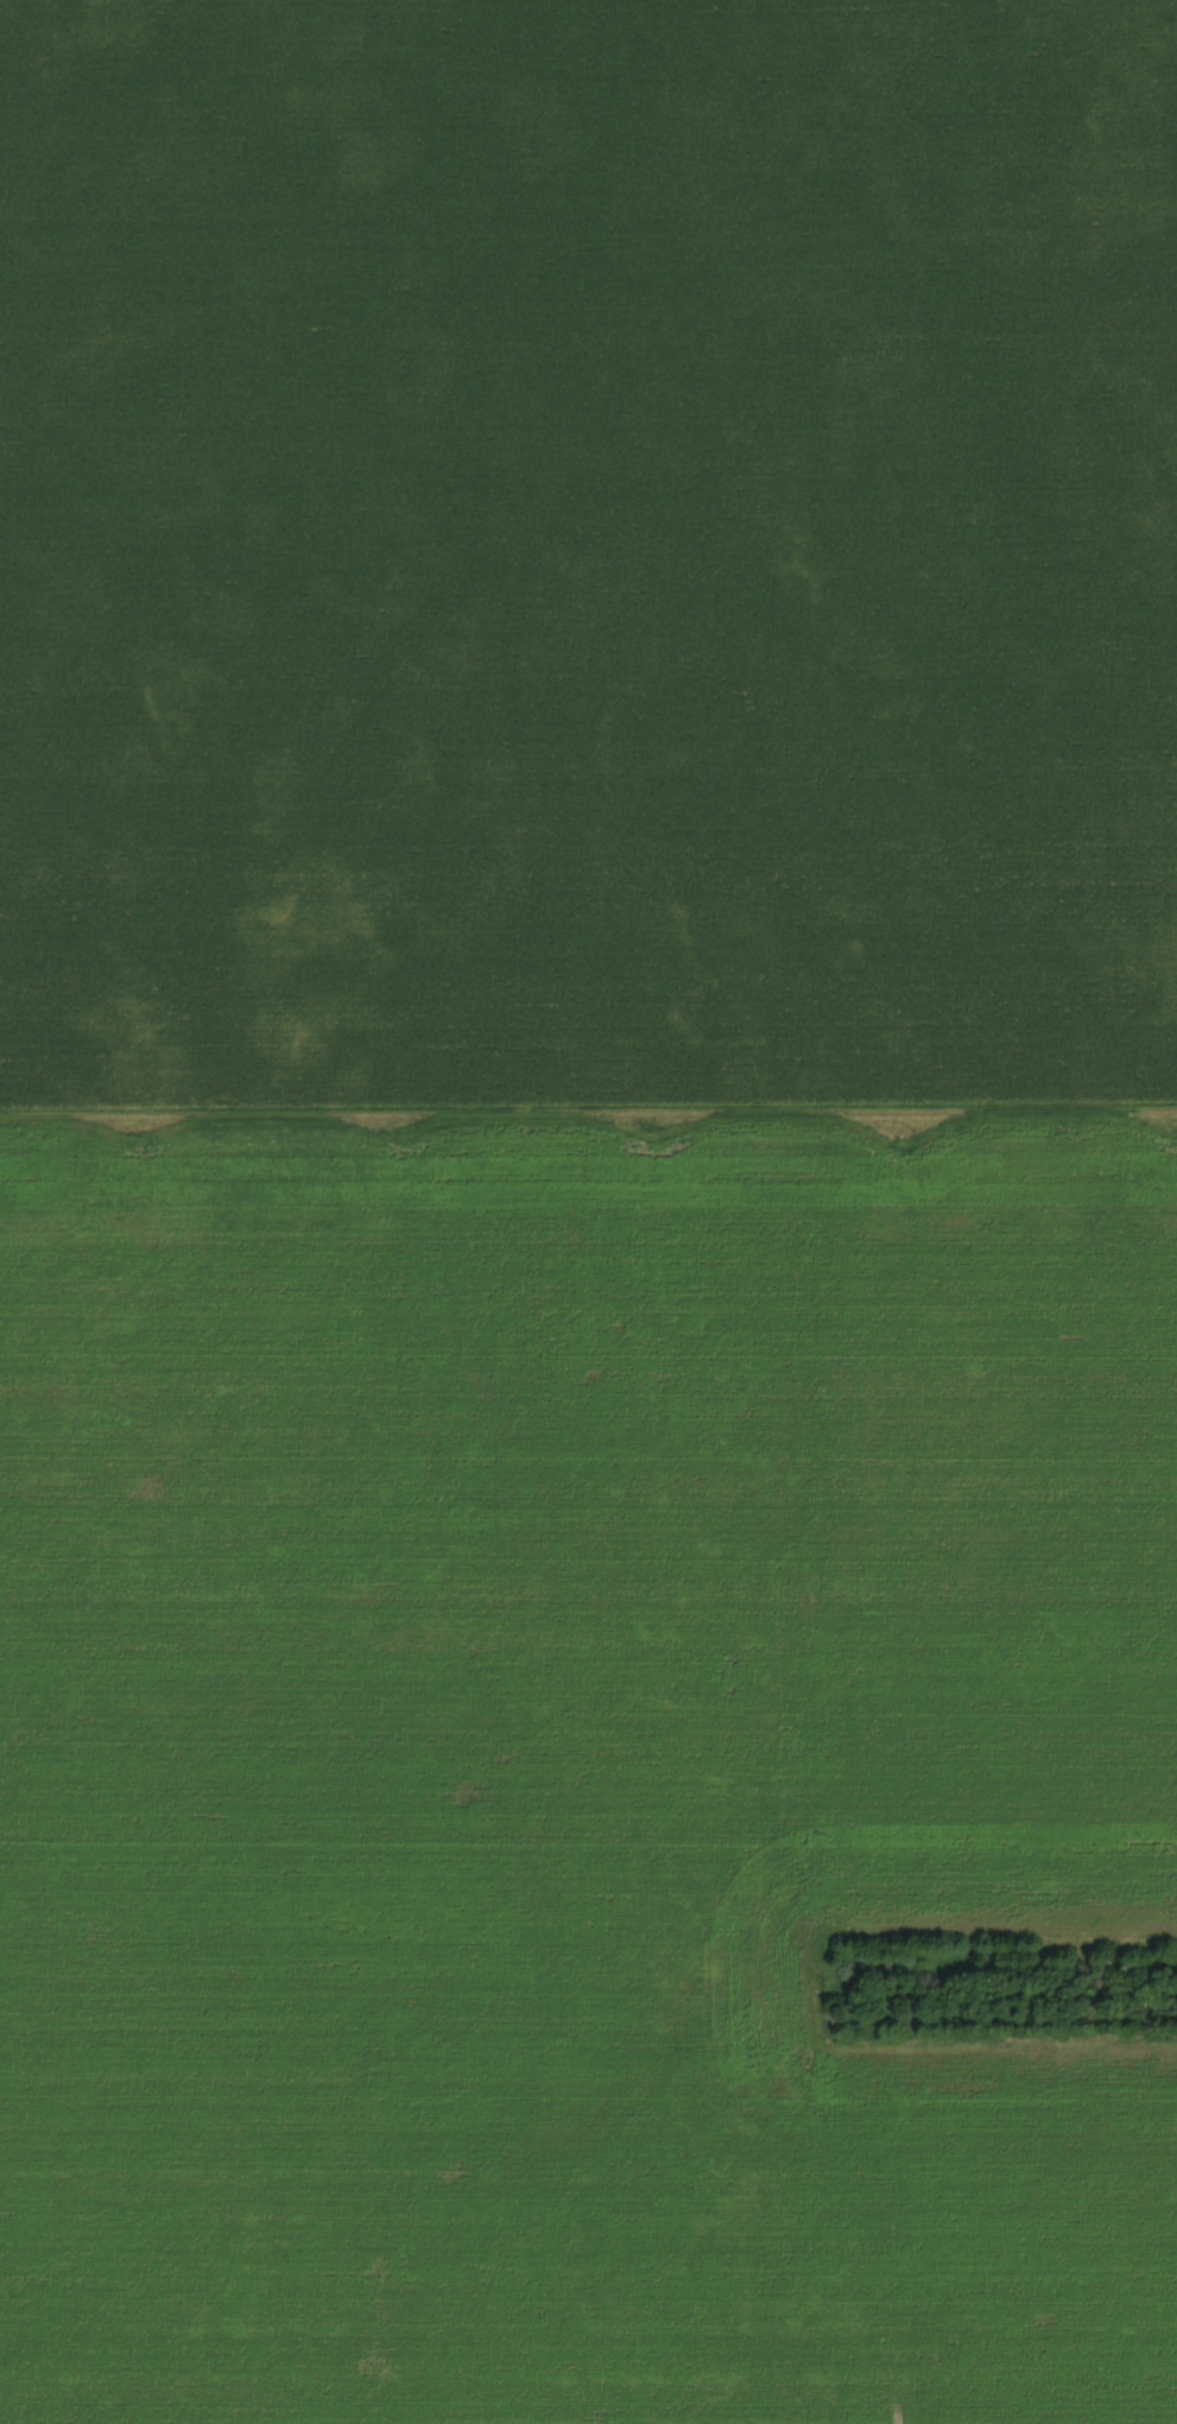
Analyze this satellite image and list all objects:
road: (588, 1095)

